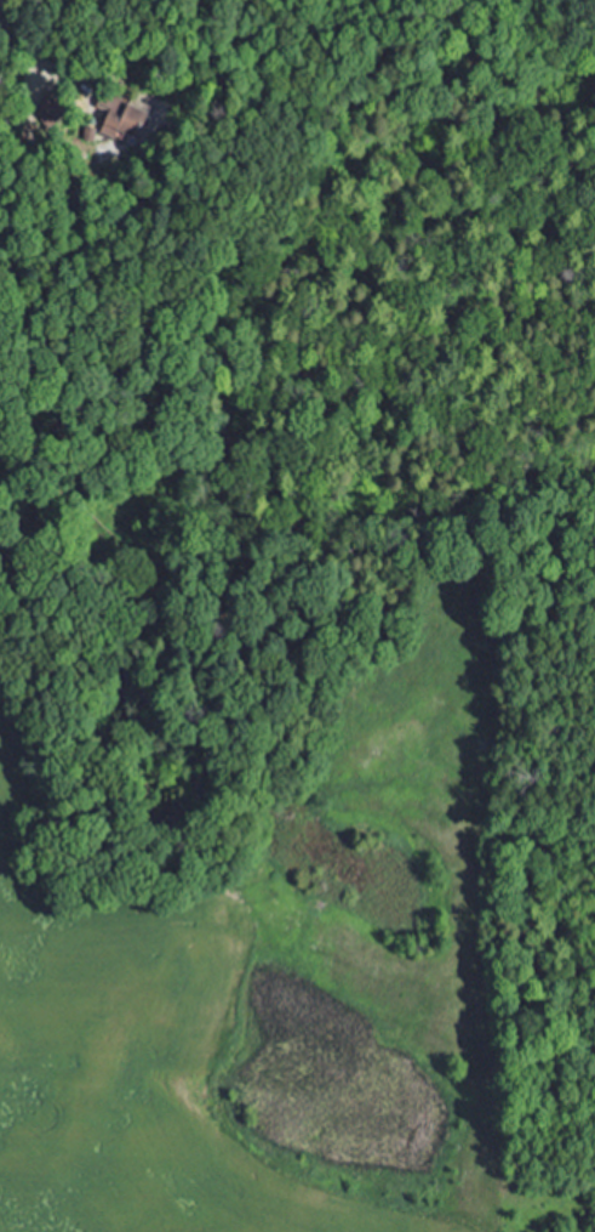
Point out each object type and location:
road: (10, 42)
building: (116, 115)

